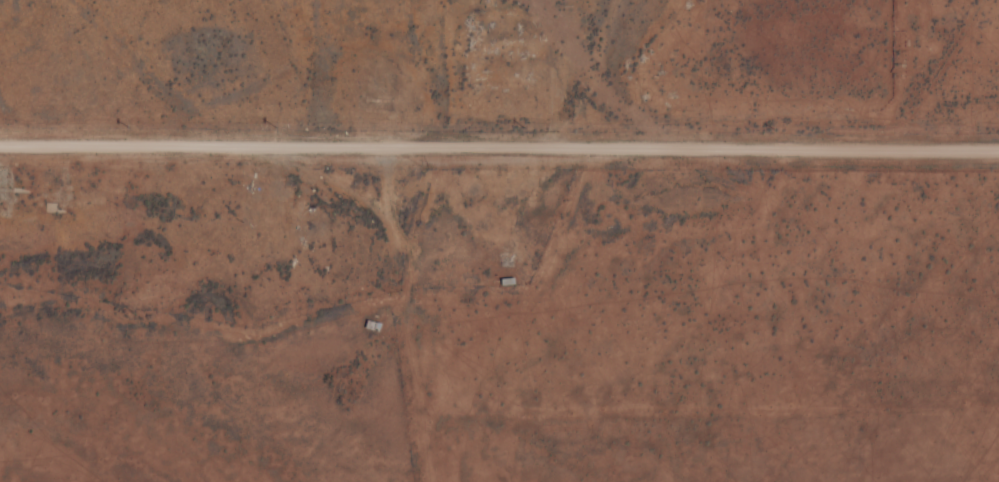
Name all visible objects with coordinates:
road: (499, 147)
road: (409, 314)

